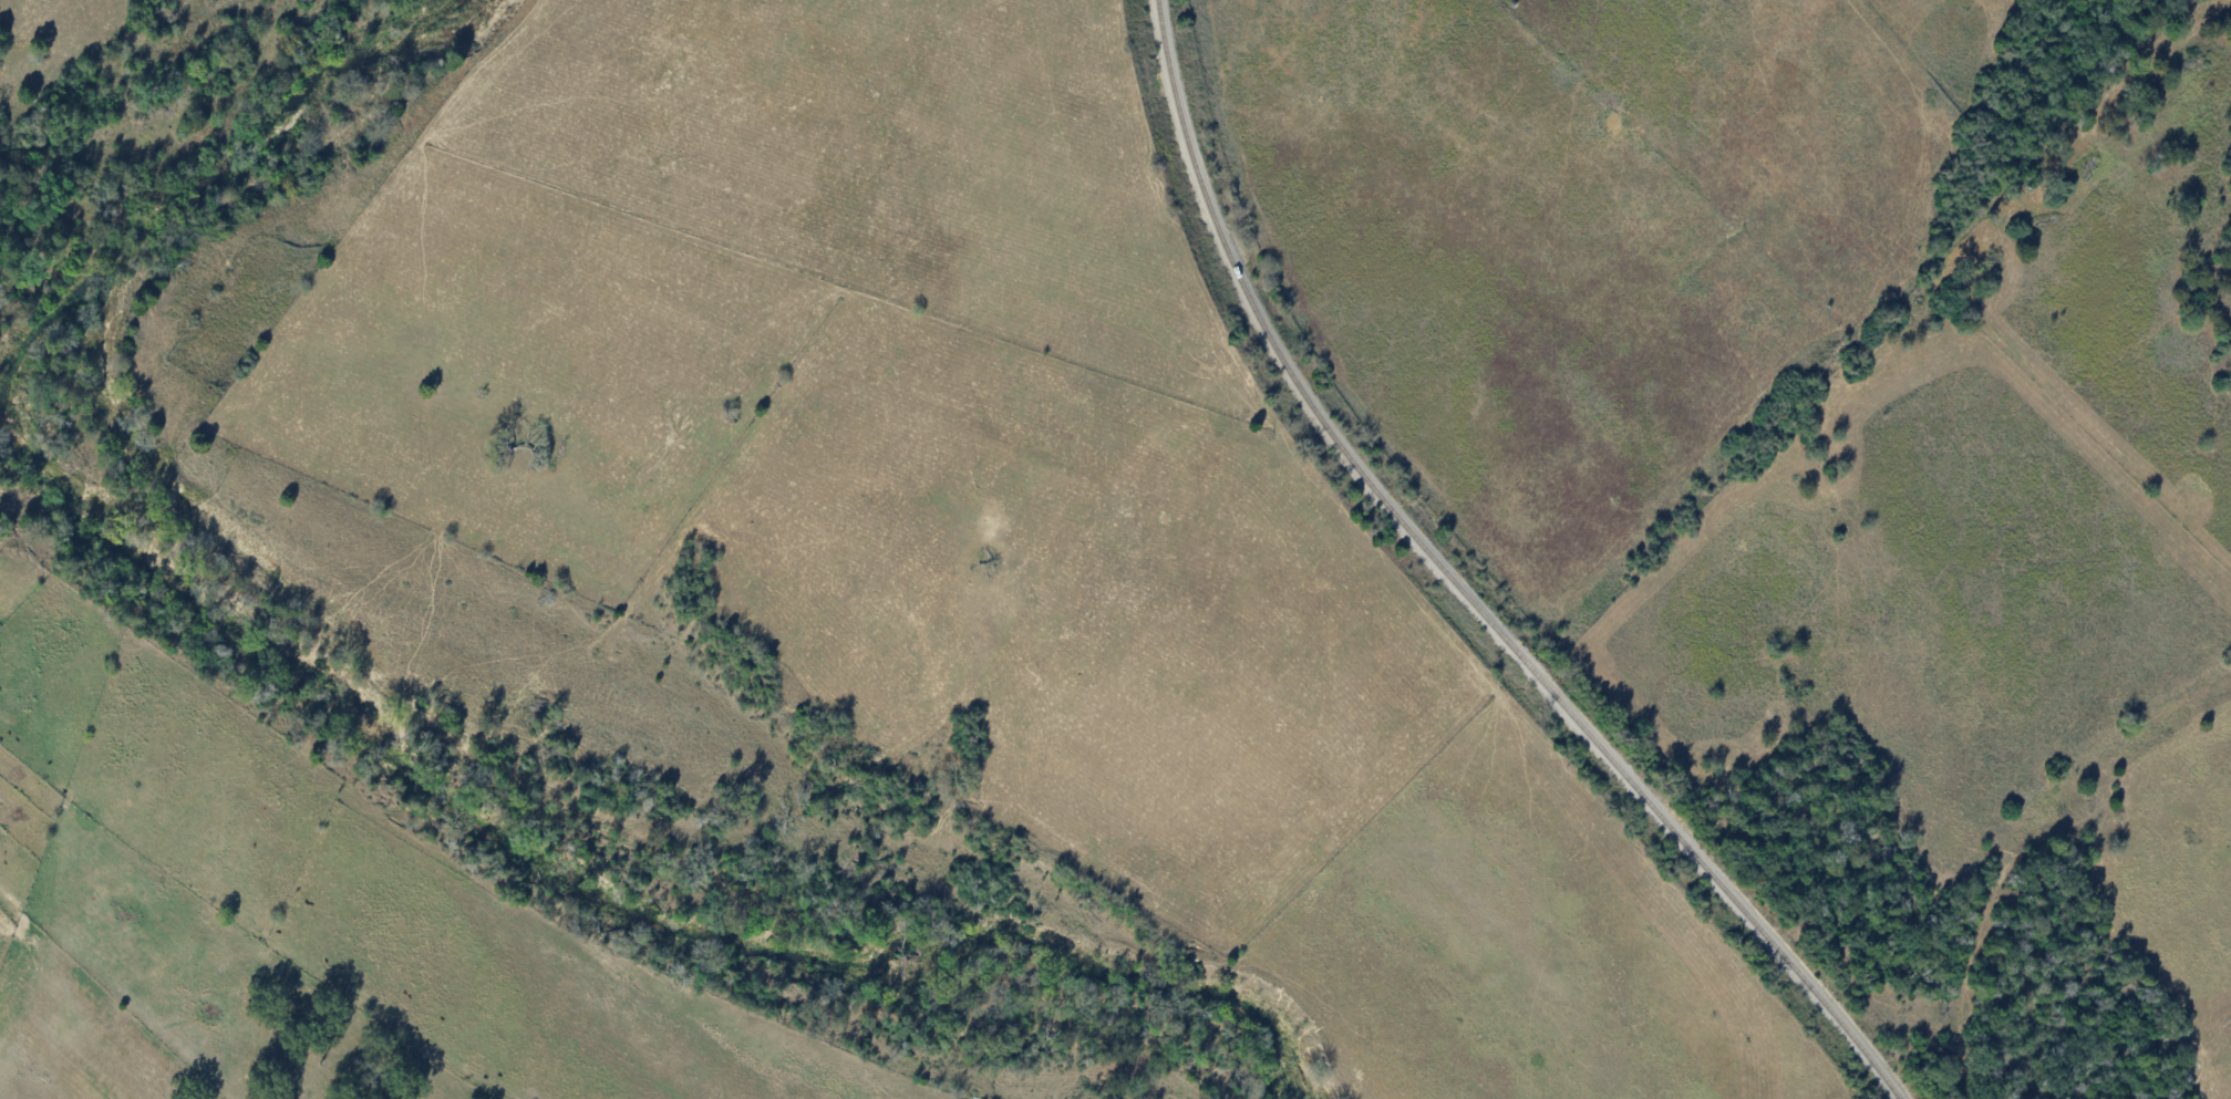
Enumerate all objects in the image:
railway: (1463, 588)

